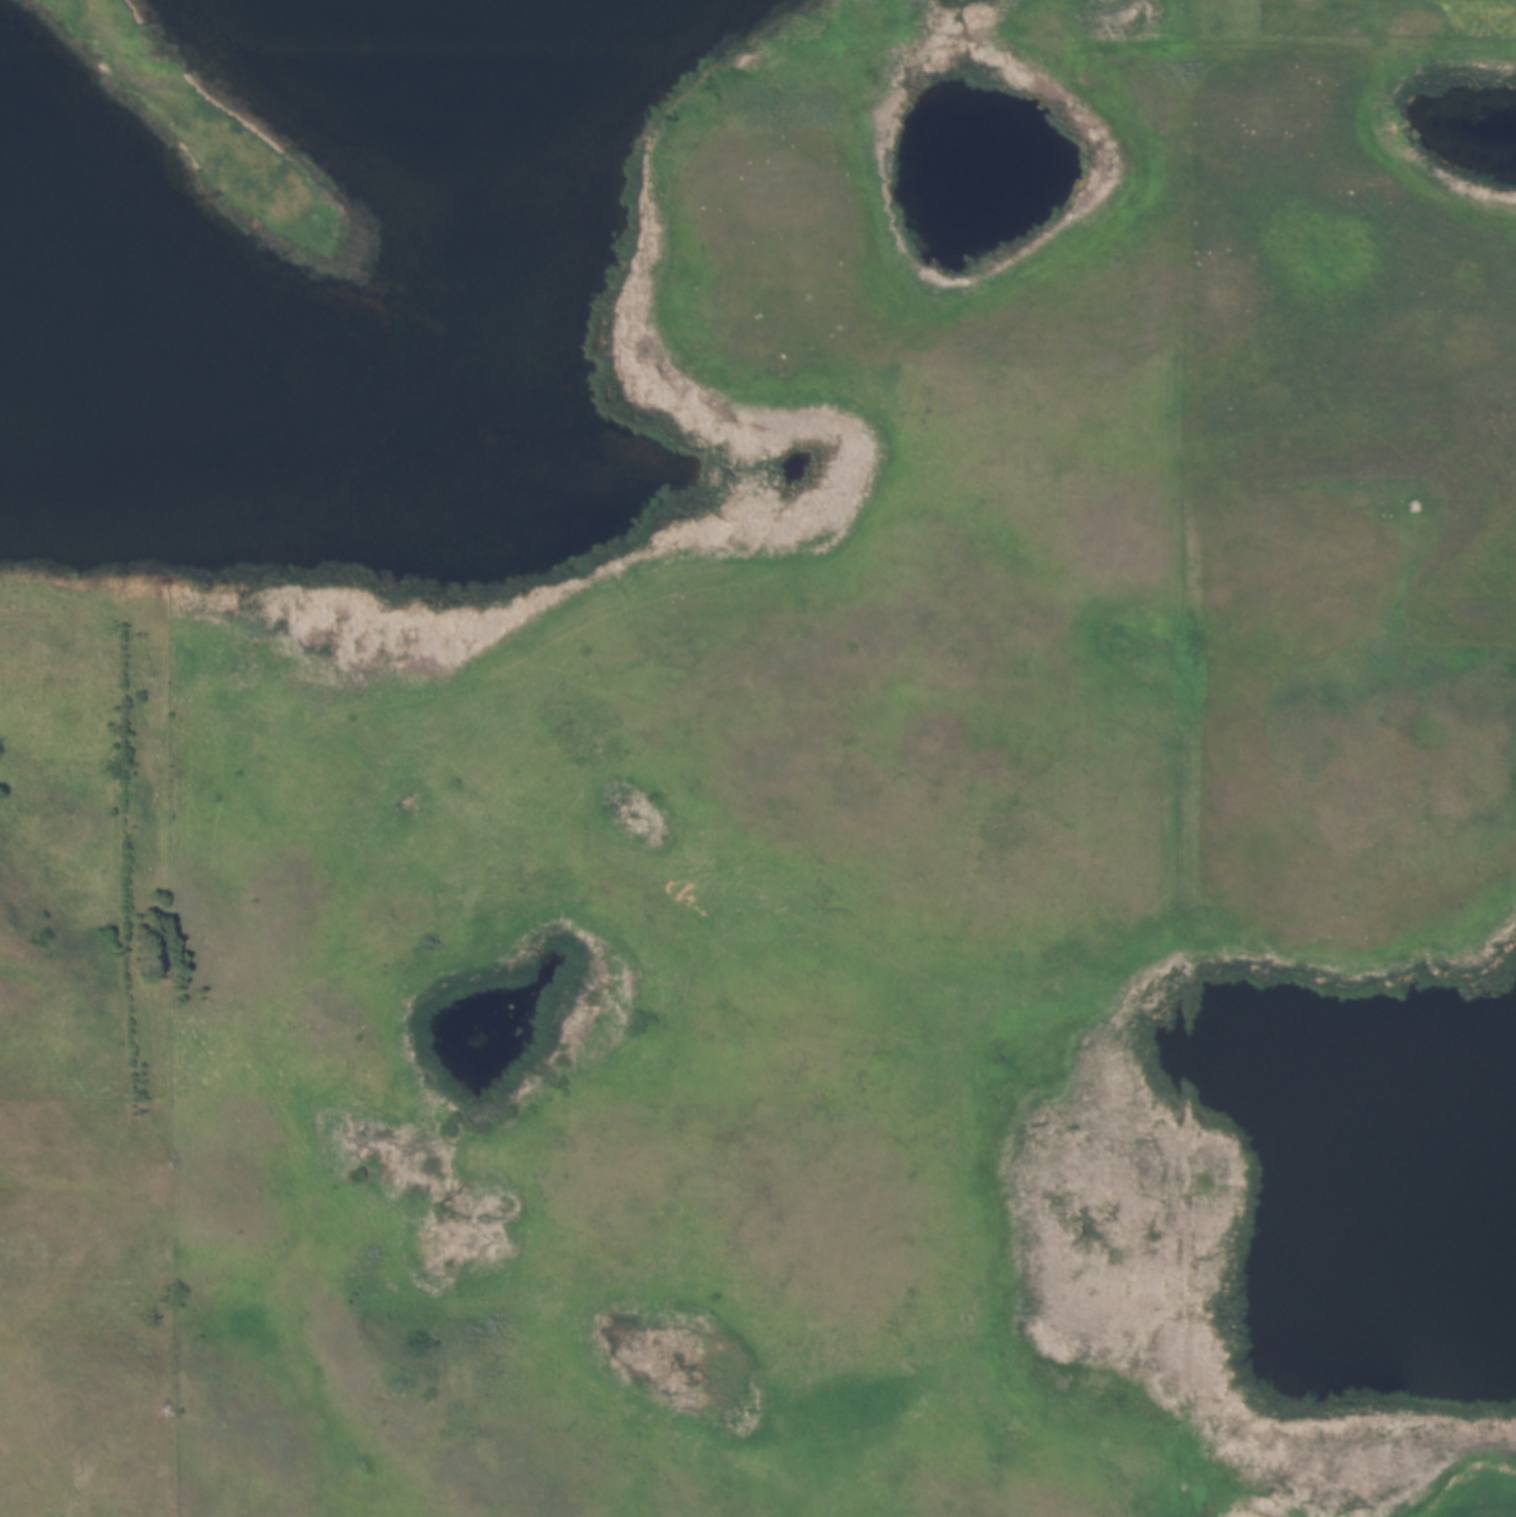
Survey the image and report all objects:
road: (1351, 54)
road: (1180, 785)

